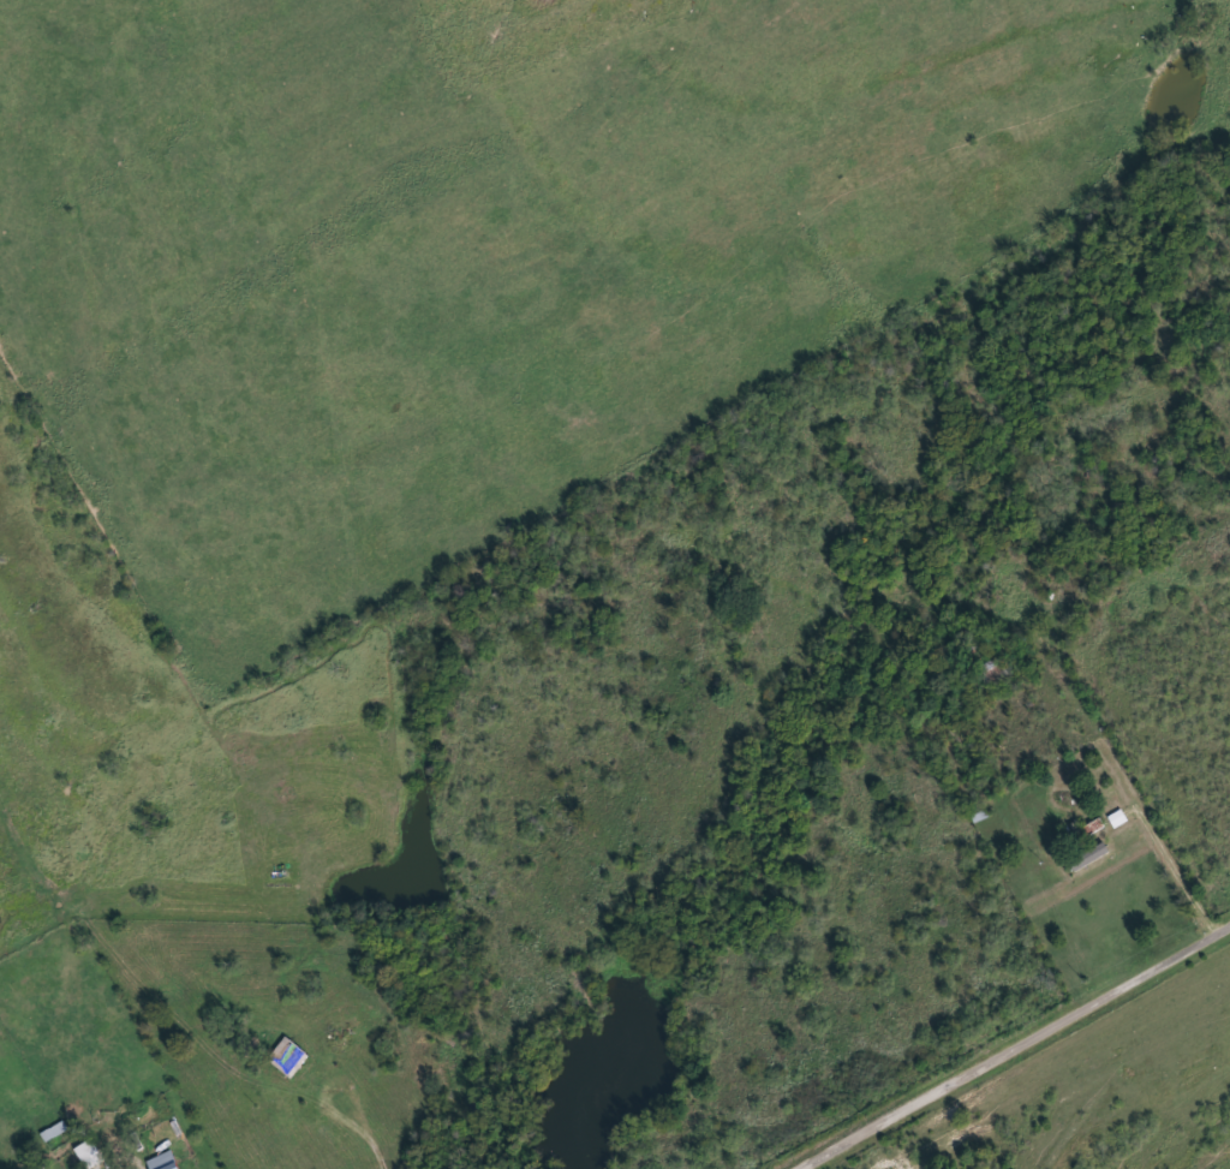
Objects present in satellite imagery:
building: (993, 672)
road: (1144, 809)
building: (1119, 819)
building: (1081, 834)
building: (1097, 854)
road: (1017, 1046)
building: (287, 1058)
building: (55, 1131)
building: (88, 1151)
building: (163, 1162)

